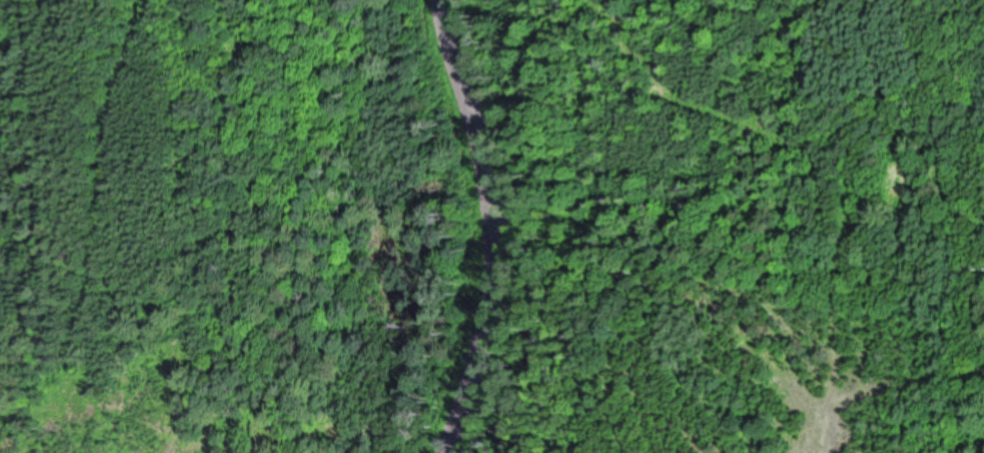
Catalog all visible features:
quarry: (486, 223)
road: (498, 226)

